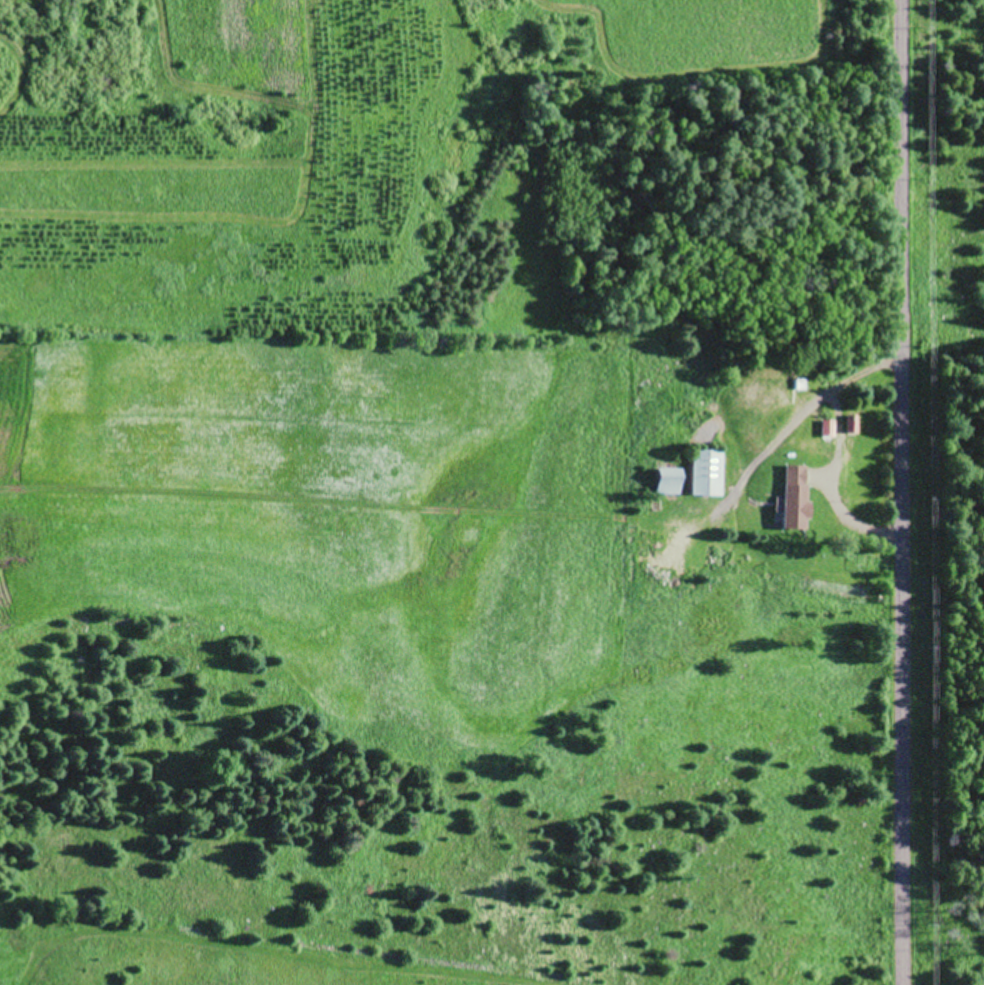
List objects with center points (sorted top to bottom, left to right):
building: (768, 391)
building: (707, 471)
building: (669, 479)
road: (880, 492)
building: (797, 504)
building: (683, 541)

